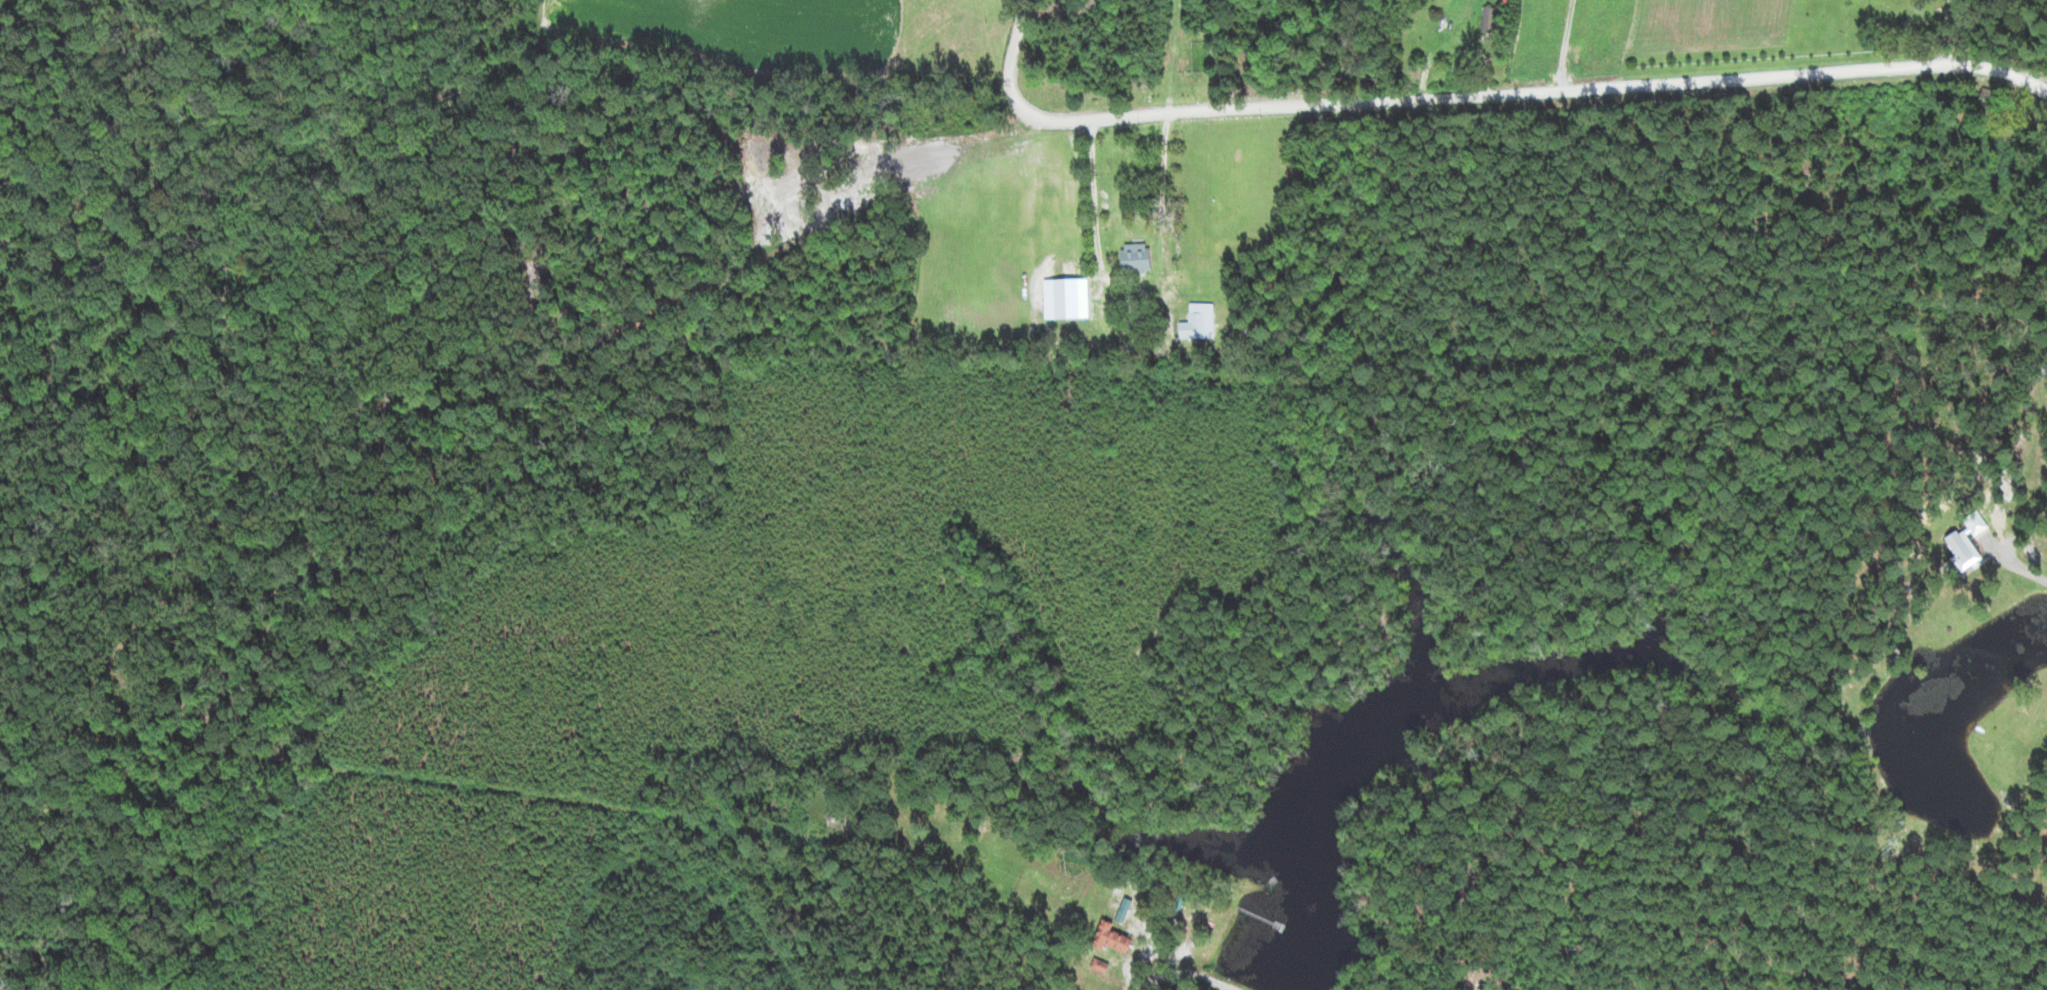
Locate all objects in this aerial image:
building: (1888, 2)
building: (1491, 21)
road: (1487, 87)
building: (1988, 106)
building: (1143, 238)
building: (1198, 322)
building: (1112, 938)

